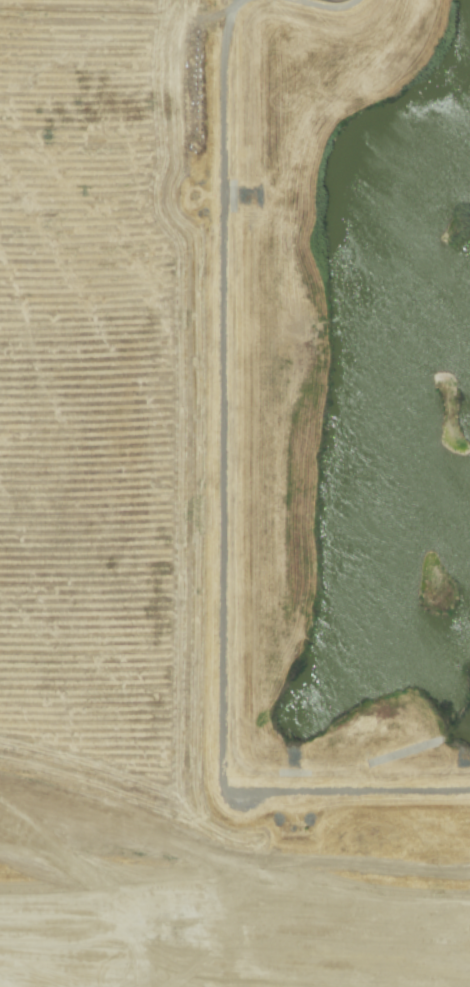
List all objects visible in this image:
road: (328, 3)
road: (221, 516)

